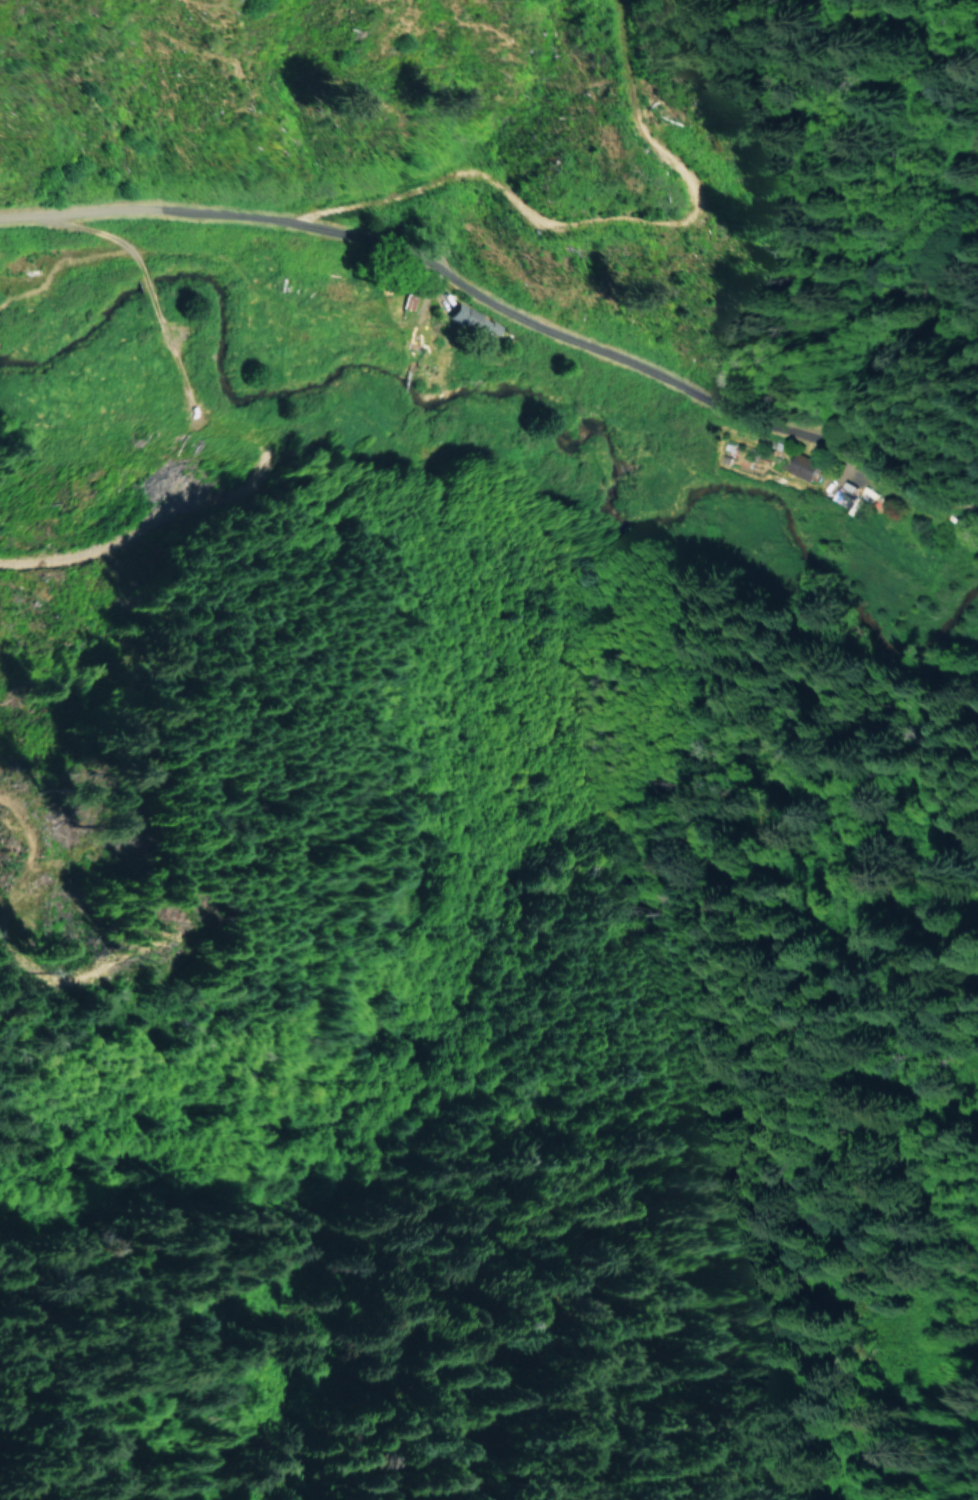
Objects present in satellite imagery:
road: (499, 300)
building: (464, 318)
building: (800, 466)

